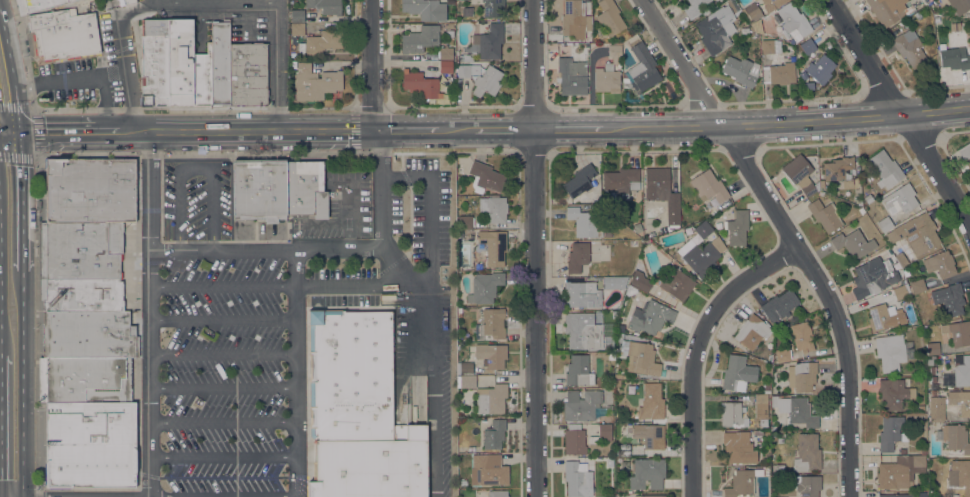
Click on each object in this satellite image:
building: (769, 1)
building: (126, 2)
building: (964, 3)
building: (38, 5)
building: (734, 5)
building: (325, 6)
building: (694, 7)
building: (492, 8)
building: (425, 9)
building: (889, 10)
building: (751, 12)
building: (297, 16)
building: (610, 17)
building: (574, 19)
building: (936, 19)
building: (793, 20)
building: (954, 27)
building: (297, 29)
building: (716, 29)
building: (64, 33)
building: (449, 33)
building: (419, 39)
building: (489, 41)
building: (320, 43)
building: (770, 46)
building: (807, 46)
building: (909, 48)
building: (614, 50)
building: (445, 52)
road: (123, 56)
building: (468, 57)
building: (953, 57)
building: (154, 63)
building: (179, 63)
building: (220, 63)
road: (276, 65)
road: (371, 65)
building: (445, 67)
building: (643, 69)
building: (820, 69)
road: (11, 70)
building: (740, 70)
building: (248, 73)
building: (778, 73)
building: (803, 75)
building: (572, 76)
road: (82, 78)
building: (479, 78)
building: (201, 79)
building: (606, 79)
building: (314, 82)
building: (420, 84)
building: (809, 85)
road: (901, 109)
road: (495, 130)
road: (10, 133)
building: (965, 153)
road: (195, 168)
building: (885, 168)
building: (841, 172)
building: (800, 175)
building: (485, 177)
building: (621, 180)
building: (579, 181)
building: (656, 183)
building: (821, 183)
building: (709, 186)
building: (261, 189)
building: (307, 189)
building: (89, 190)
building: (868, 198)
building: (900, 199)
road: (24, 201)
building: (493, 208)
road: (430, 211)
building: (861, 211)
building: (673, 215)
building: (825, 215)
road: (353, 217)
building: (465, 222)
building: (585, 222)
building: (885, 224)
building: (736, 228)
building: (703, 229)
building: (607, 233)
building: (916, 233)
road: (790, 235)
building: (634, 243)
building: (853, 243)
building: (491, 247)
road: (536, 248)
road: (264, 249)
building: (80, 251)
building: (577, 257)
building: (698, 257)
building: (901, 259)
road: (386, 260)
building: (940, 264)
road: (292, 267)
building: (905, 272)
building: (877, 276)
building: (640, 281)
building: (614, 282)
building: (677, 283)
building: (917, 286)
building: (485, 287)
building: (630, 290)
building: (900, 292)
building: (582, 294)
building: (81, 296)
building: (949, 299)
railway: (12, 301)
building: (779, 306)
building: (459, 312)
road: (148, 313)
building: (881, 316)
road: (220, 317)
building: (650, 317)
road: (293, 318)
building: (491, 324)
road: (40, 327)
building: (620, 328)
building: (582, 331)
building: (752, 332)
building: (957, 332)
building: (88, 334)
building: (799, 336)
road: (696, 348)
building: (932, 348)
building: (892, 351)
road: (221, 354)
building: (491, 355)
building: (782, 355)
building: (610, 356)
building: (640, 357)
building: (763, 357)
building: (595, 361)
building: (464, 368)
building: (961, 370)
building: (578, 371)
building: (738, 373)
building: (350, 375)
building: (802, 376)
road: (431, 378)
building: (466, 381)
road: (25, 383)
building: (766, 386)
building: (929, 386)
road: (221, 387)
building: (766, 391)
building: (934, 392)
building: (893, 394)
building: (491, 399)
building: (960, 401)
building: (465, 402)
building: (651, 402)
building: (760, 403)
building: (581, 405)
building: (620, 408)
building: (936, 409)
building: (796, 410)
building: (731, 413)
road: (221, 420)
building: (88, 422)
building: (764, 423)
building: (773, 428)
building: (758, 433)
building: (766, 433)
building: (891, 433)
building: (494, 434)
building: (601, 434)
building: (646, 434)
building: (954, 438)
building: (574, 440)
building: (780, 440)
building: (738, 447)
building: (621, 450)
building: (903, 451)
building: (924, 451)
road: (221, 453)
building: (807, 453)
building: (609, 462)
building: (371, 466)
building: (488, 470)
building: (899, 472)
building: (647, 474)
building: (963, 476)
building: (577, 479)
building: (742, 482)
building: (808, 485)
building: (491, 493)
building: (649, 495)
building: (895, 495)
building: (924, 495)
building: (938, 496)

